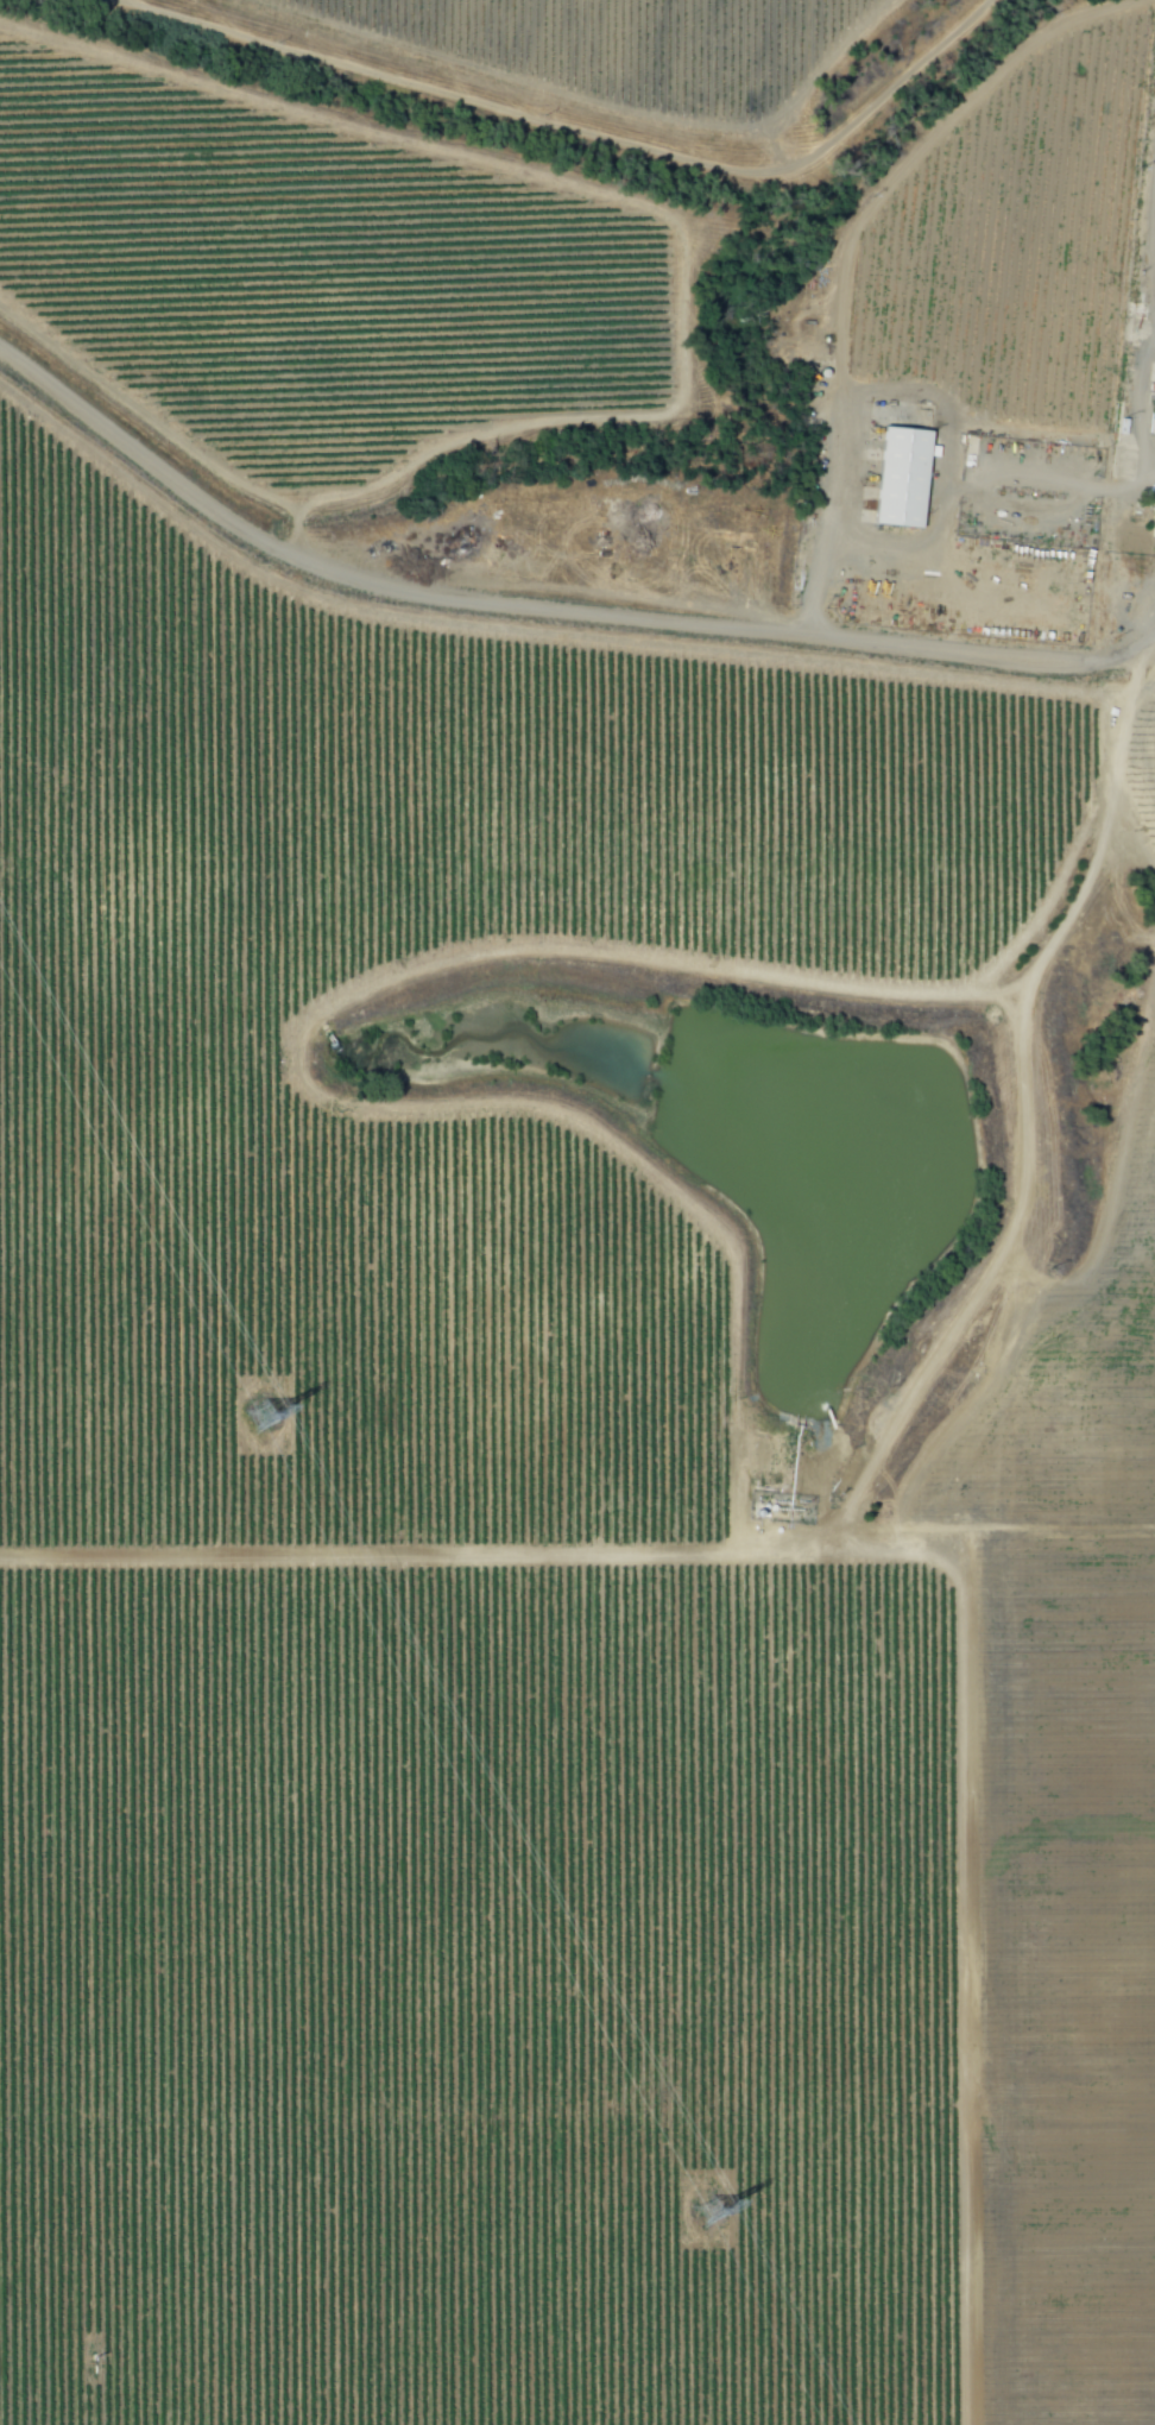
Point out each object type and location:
road: (575, 130)
road: (939, 407)
road: (1141, 407)
building: (895, 477)
building: (1153, 505)
road: (545, 610)
road: (1021, 1120)
power tower: (259, 1406)
road: (905, 1552)
power tower: (677, 2171)

